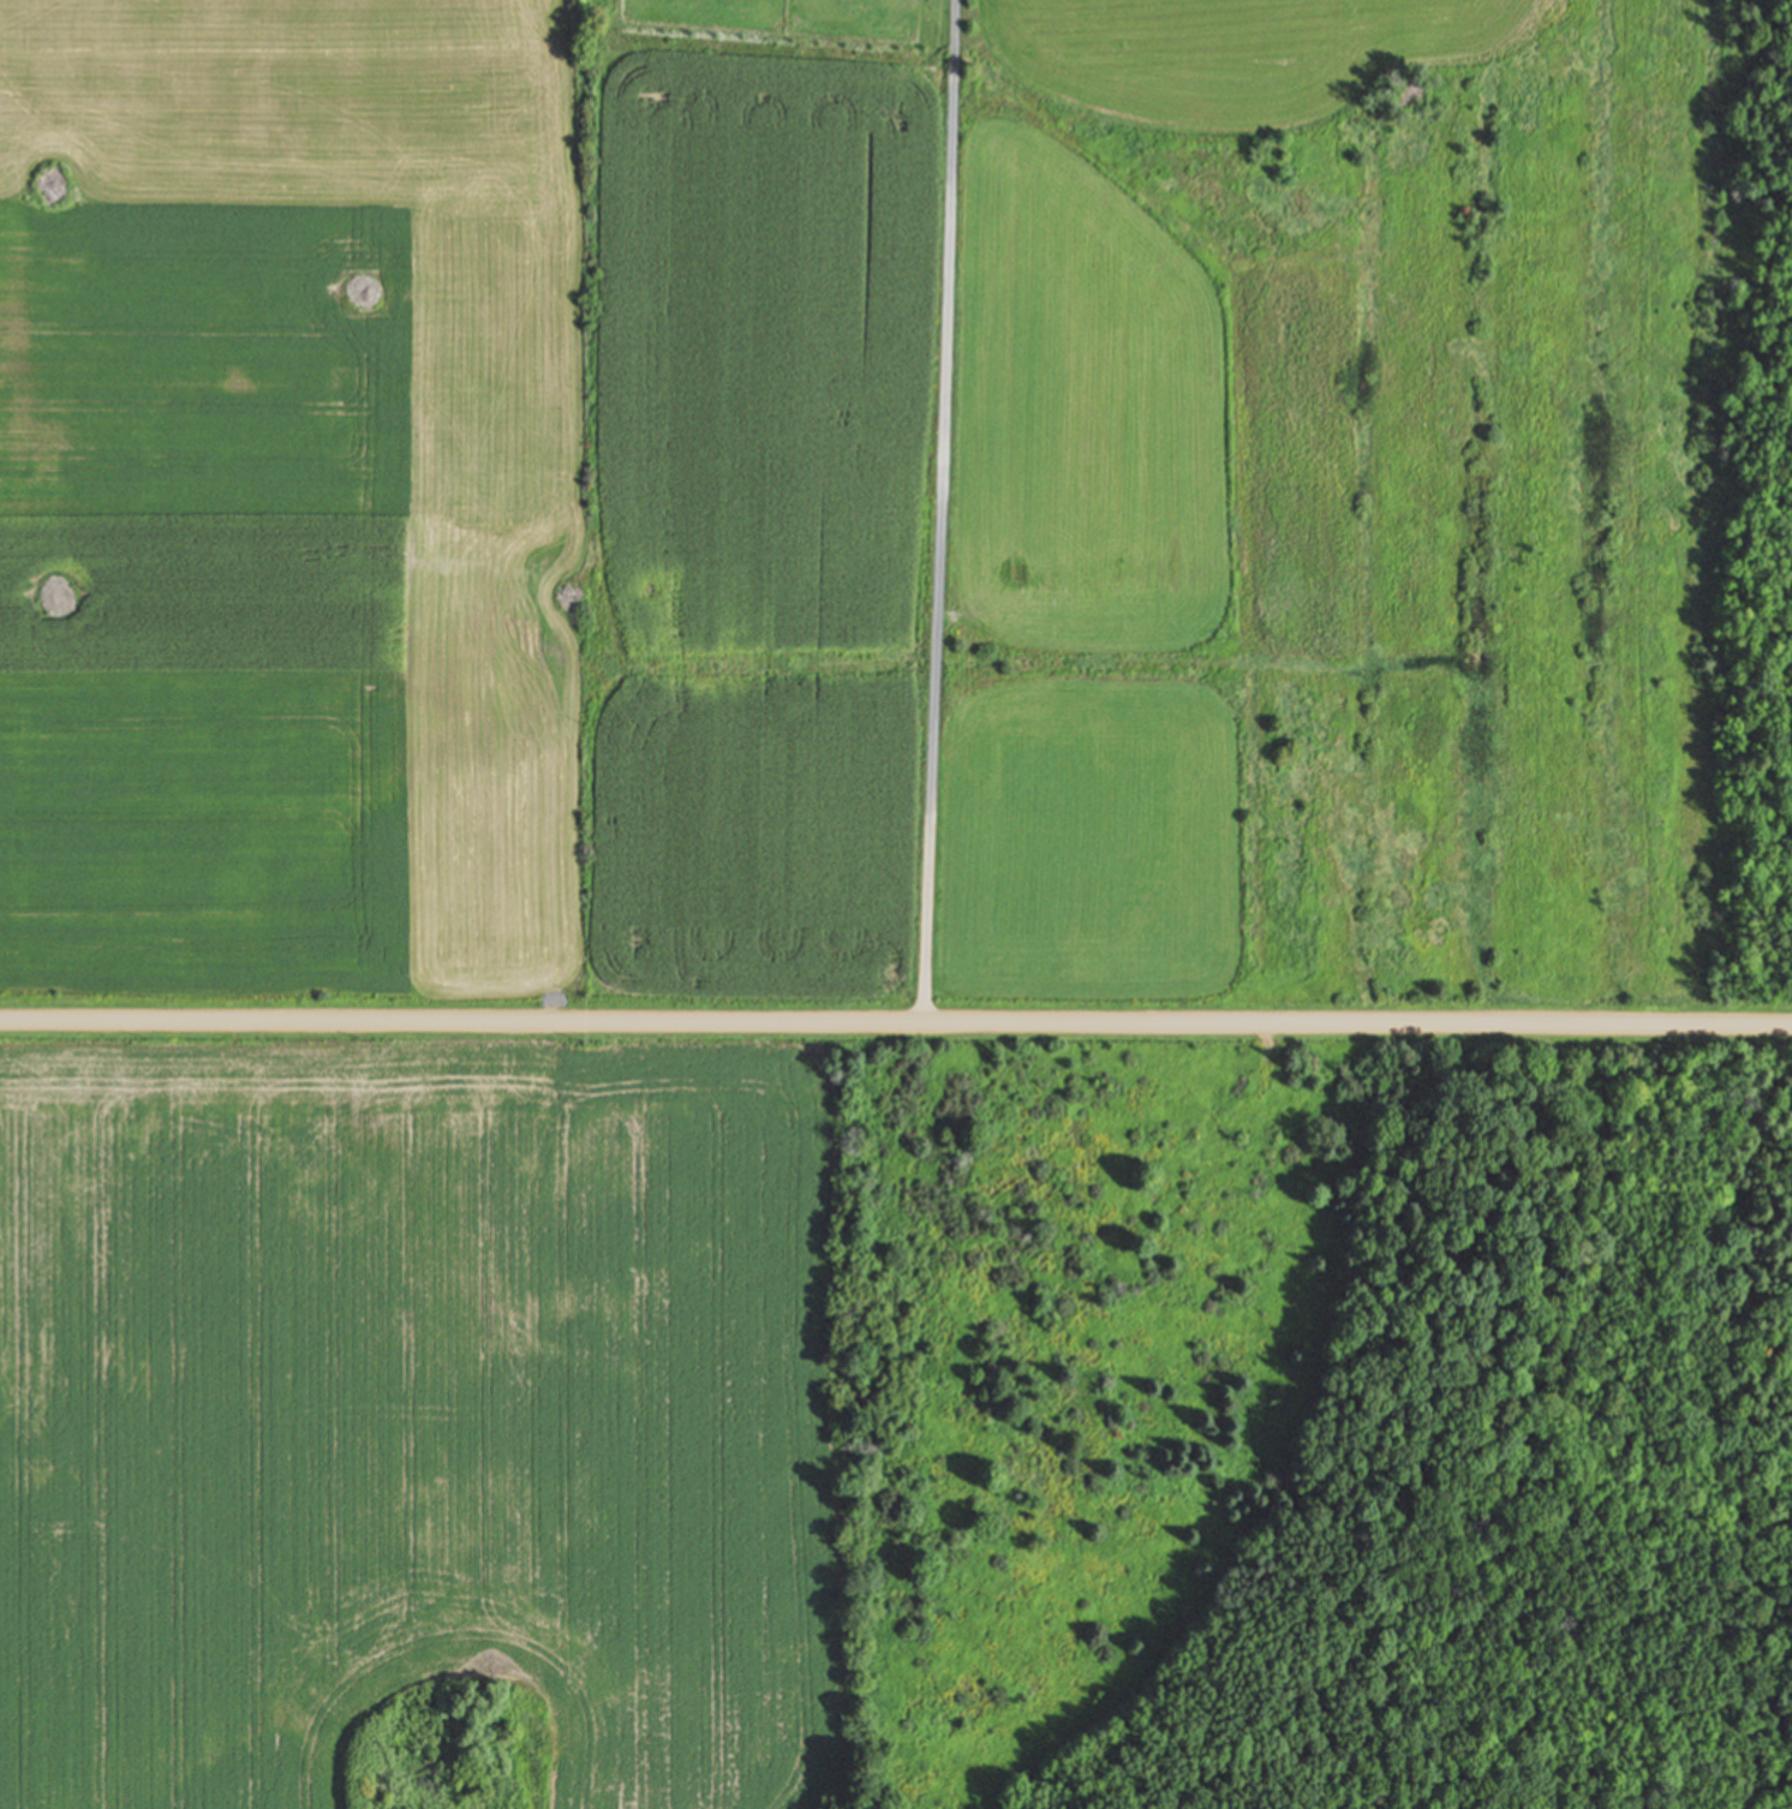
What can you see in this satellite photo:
river: (1566, 886)
road: (896, 1020)

